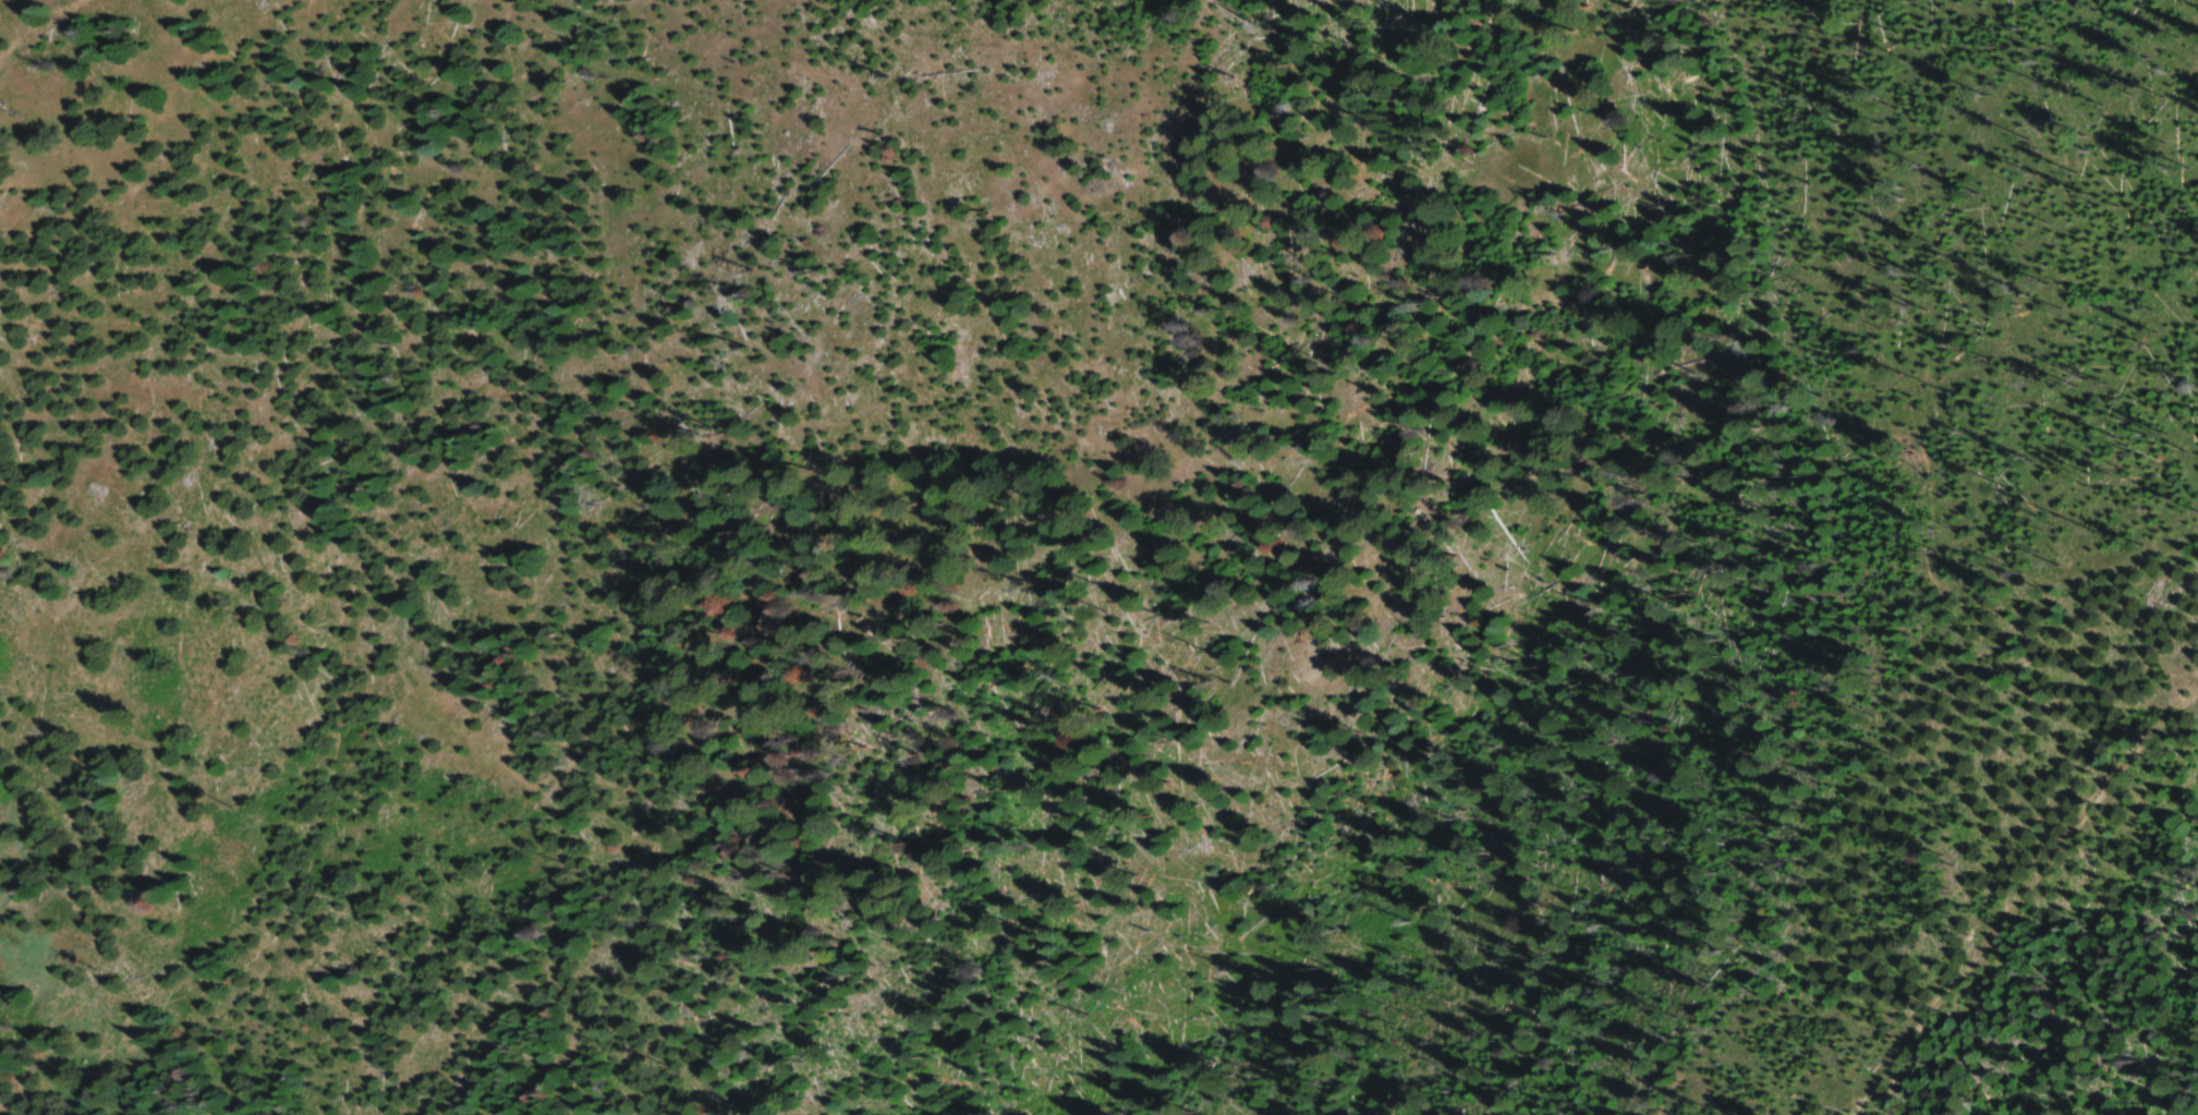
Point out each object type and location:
road: (2020, 894)
road: (48, 1090)

